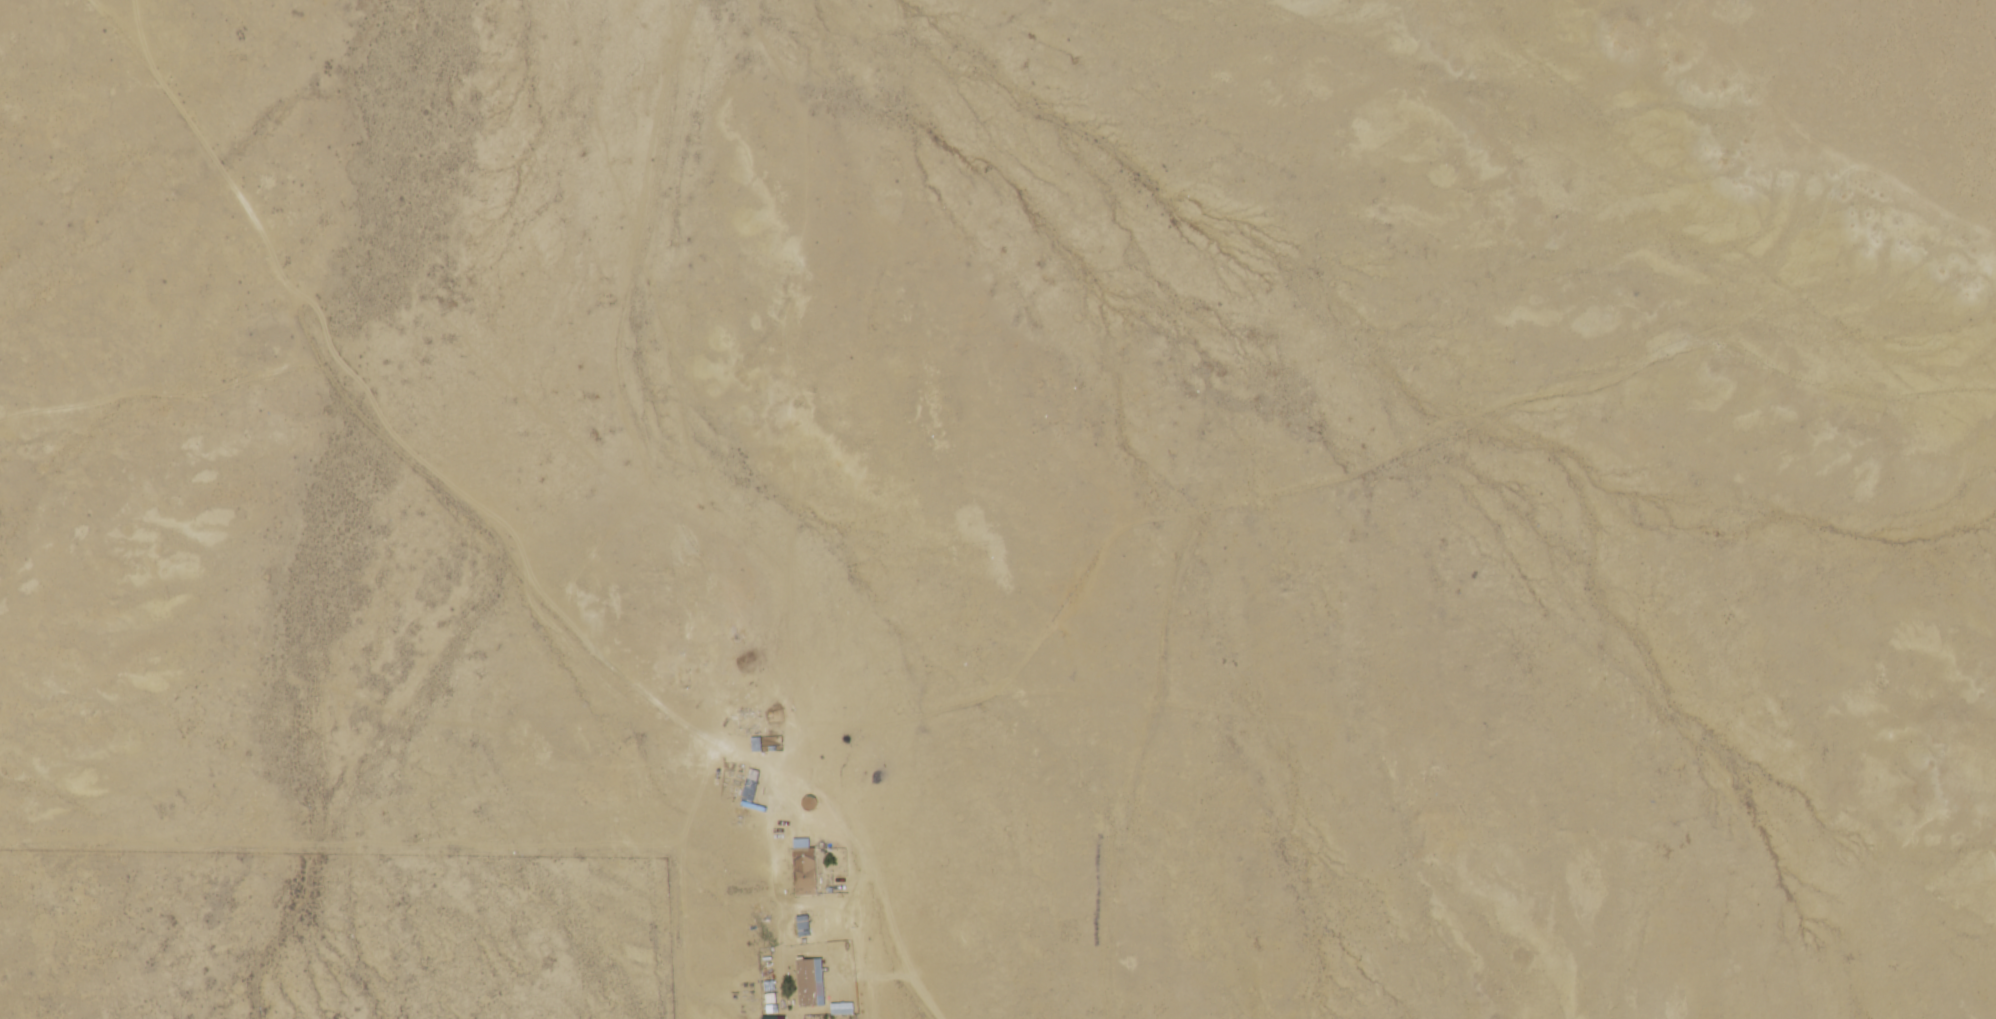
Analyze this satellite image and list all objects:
road: (495, 557)
building: (745, 790)
building: (806, 803)
building: (805, 869)
building: (804, 928)
building: (808, 982)

